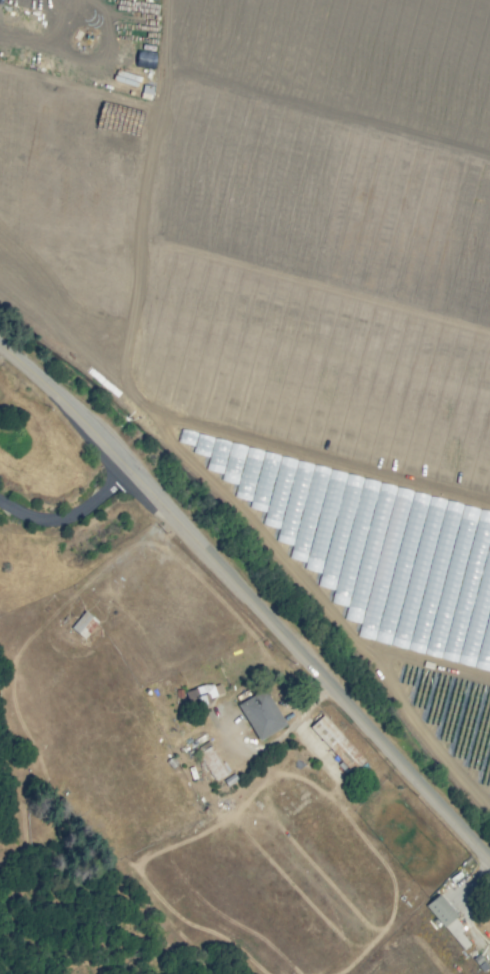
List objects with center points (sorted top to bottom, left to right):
road: (162, 53)
road: (244, 131)
crop: (285, 287)
road: (68, 519)
road: (245, 601)
building: (83, 624)
building: (205, 692)
building: (261, 714)
building: (337, 743)
building: (212, 762)
road: (459, 898)
building: (489, 917)
building: (448, 920)

